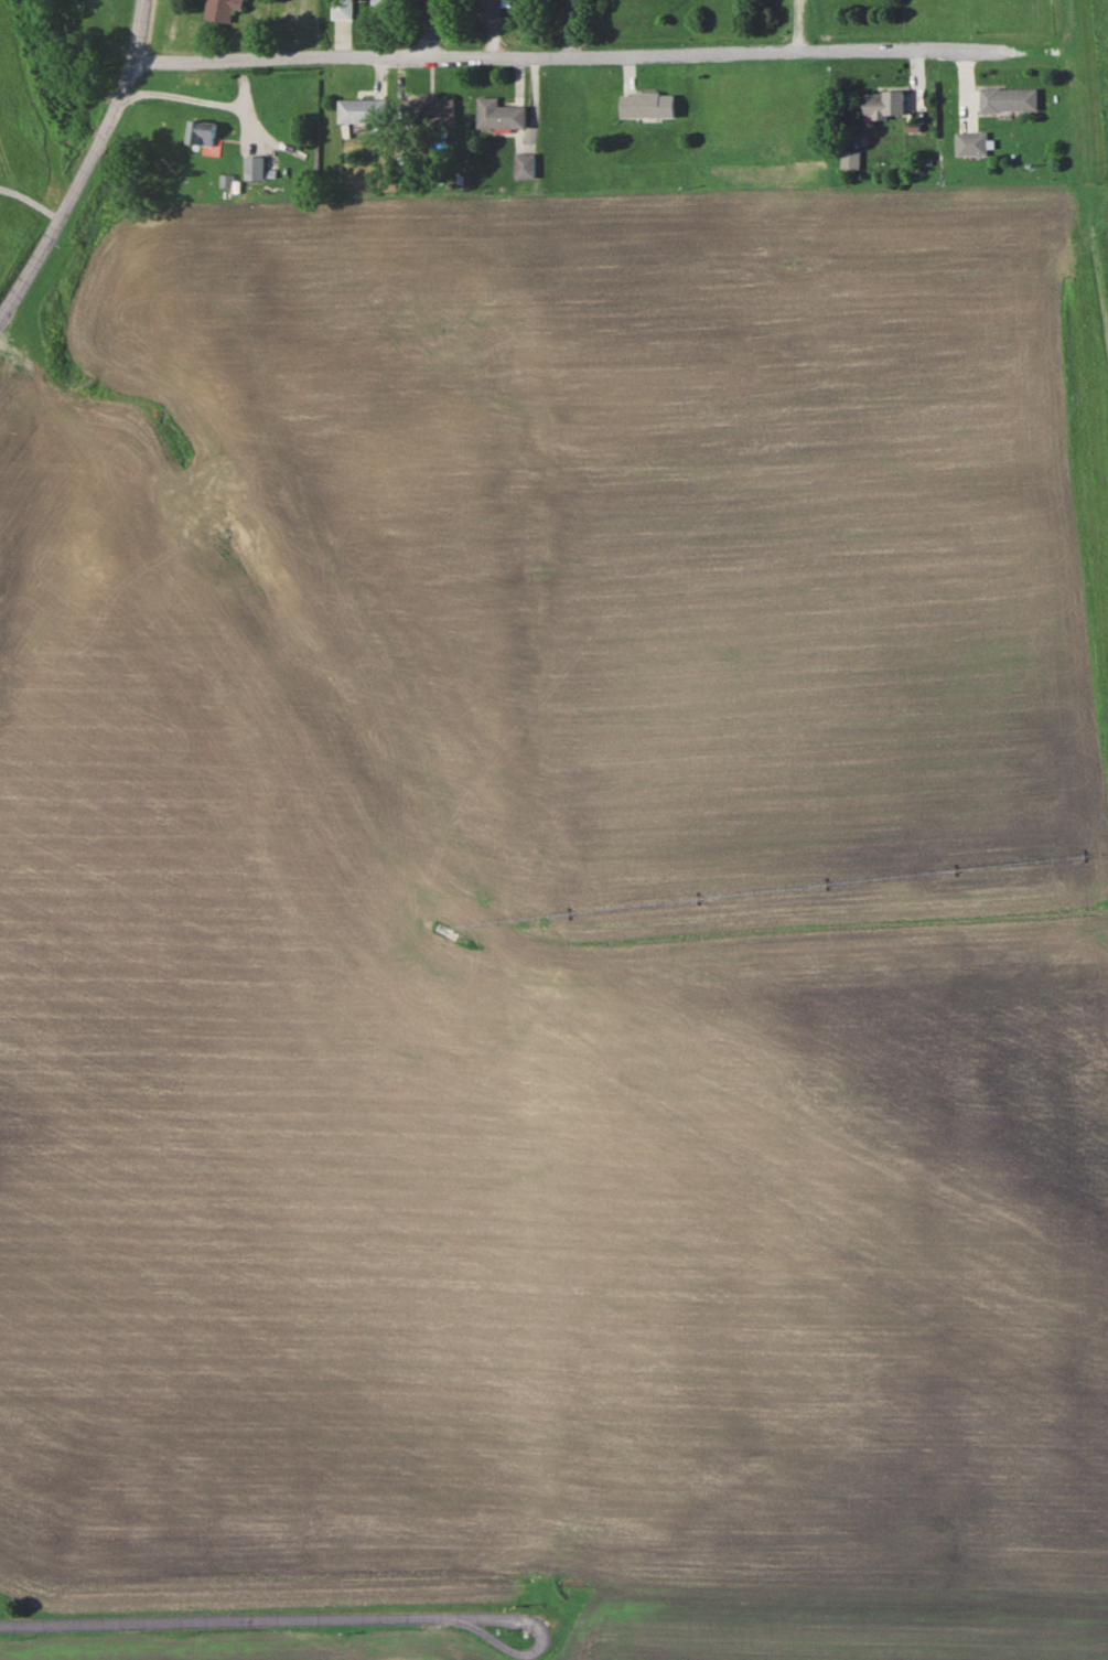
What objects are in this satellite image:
building: (384, 3)
building: (342, 9)
building: (490, 9)
building: (220, 10)
road: (430, 29)
road: (562, 55)
road: (186, 98)
building: (1008, 100)
building: (645, 105)
building: (882, 106)
building: (432, 109)
building: (363, 110)
building: (498, 115)
building: (201, 132)
building: (970, 143)
building: (849, 160)
road: (88, 161)
building: (523, 165)
building: (254, 168)
crop: (549, 903)
crop: (825, 1620)
road: (228, 1621)
road: (539, 1643)
crop: (172, 1648)
park: (406, 1653)

